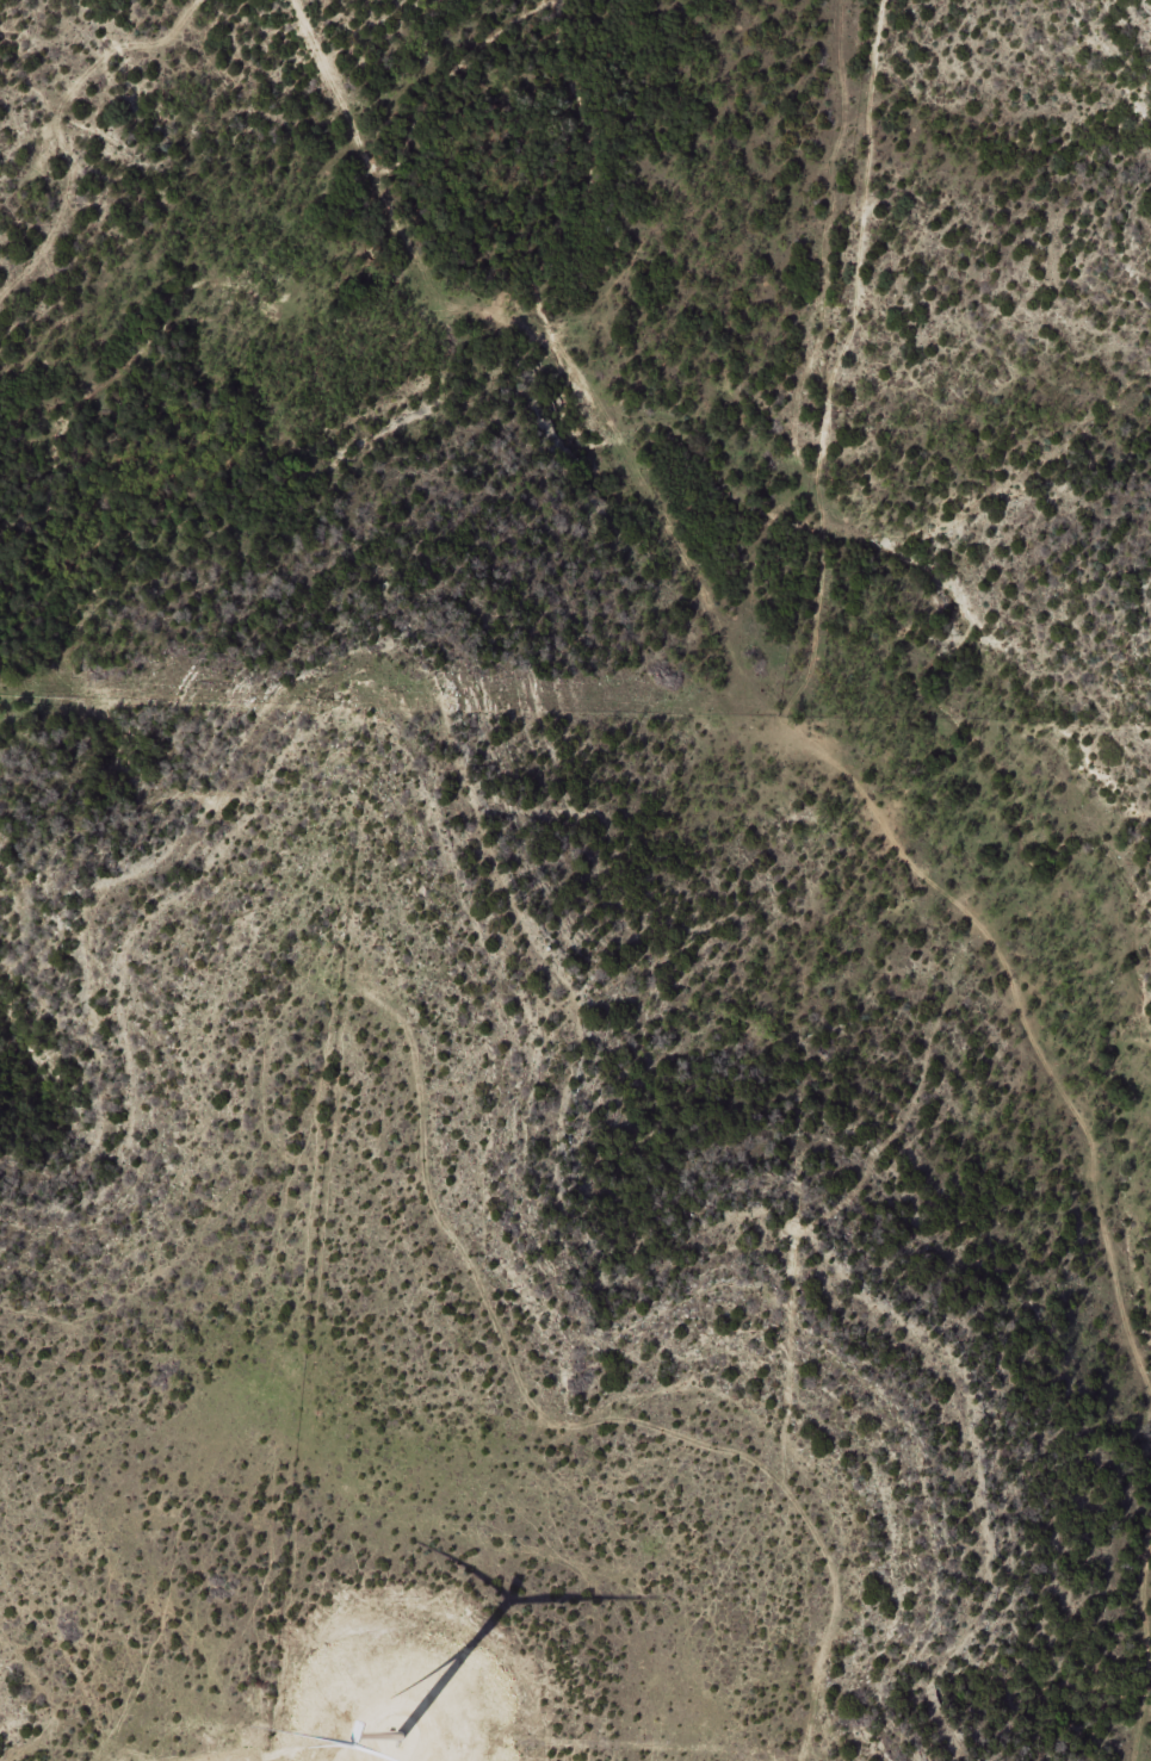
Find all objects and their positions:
road: (536, 355)
road: (822, 661)
wind turbine: (415, 1719)
road: (1147, 1749)

